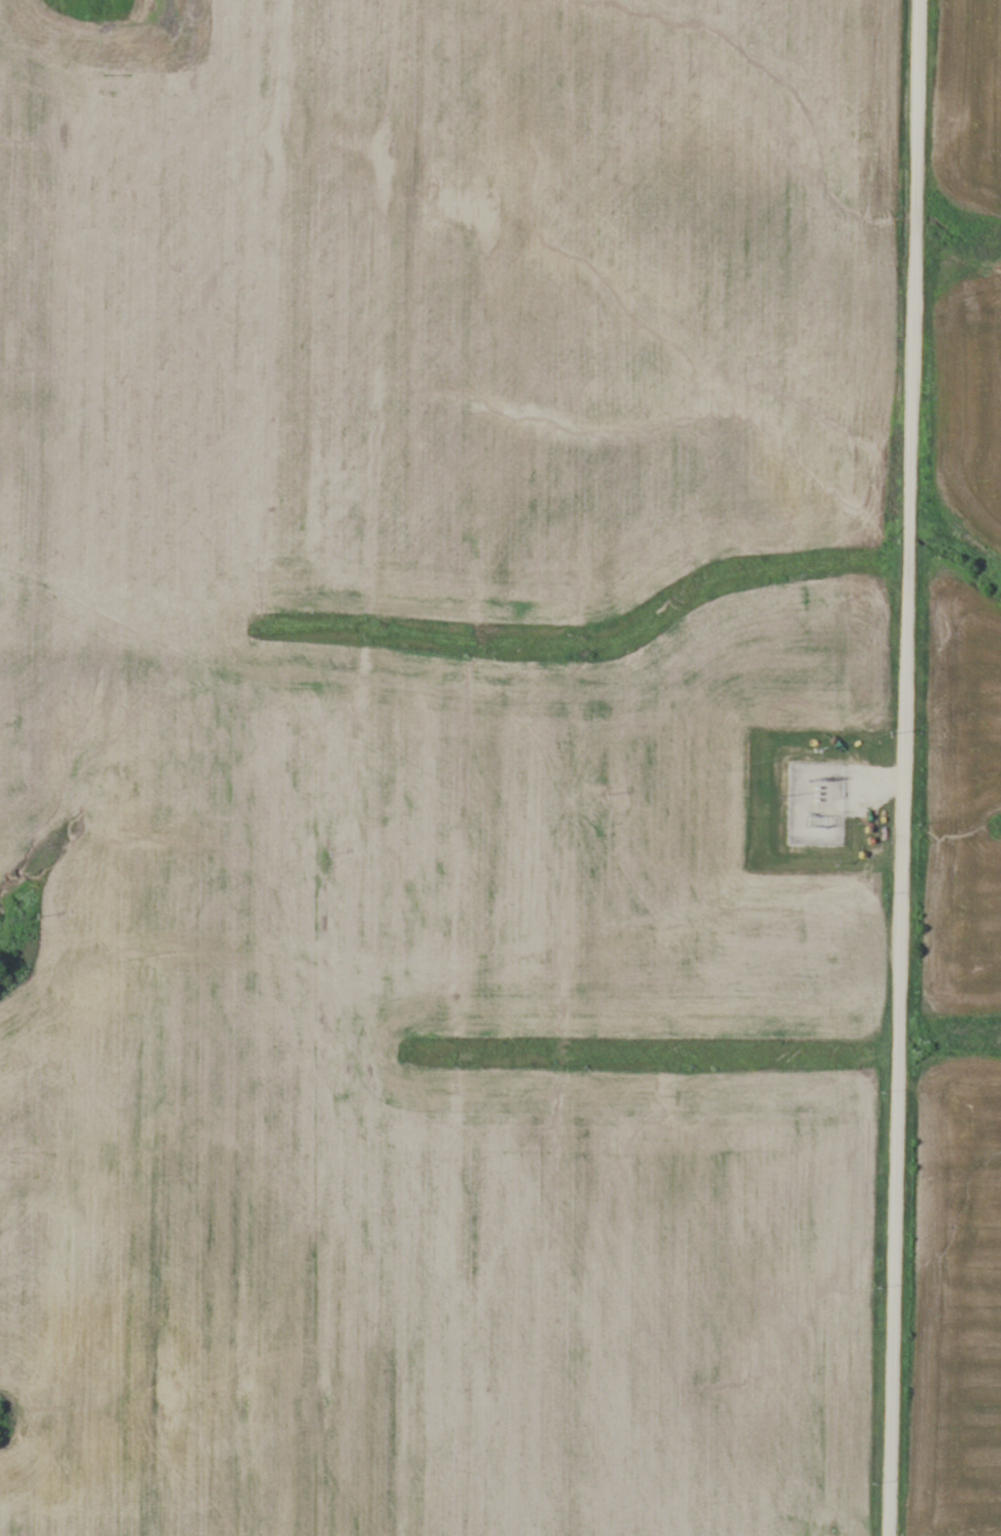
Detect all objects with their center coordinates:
road: (900, 767)

